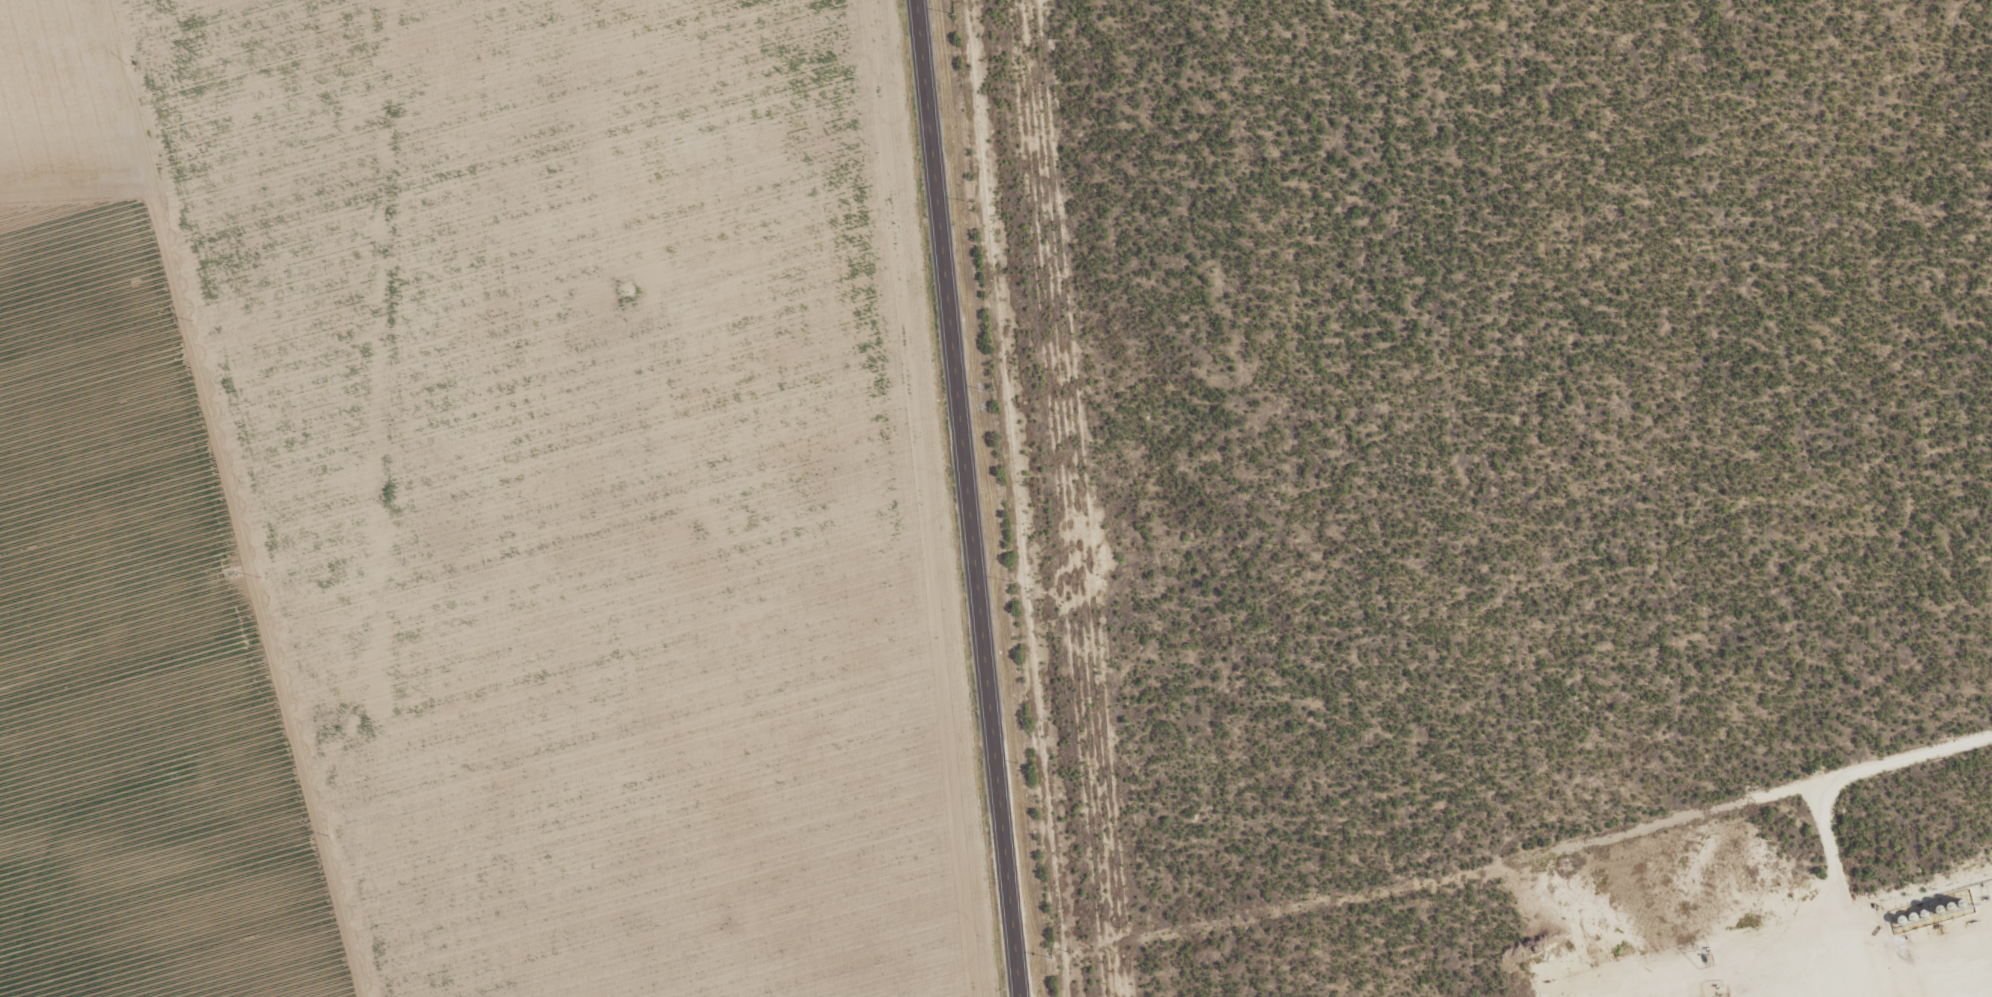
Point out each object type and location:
road: (970, 498)

